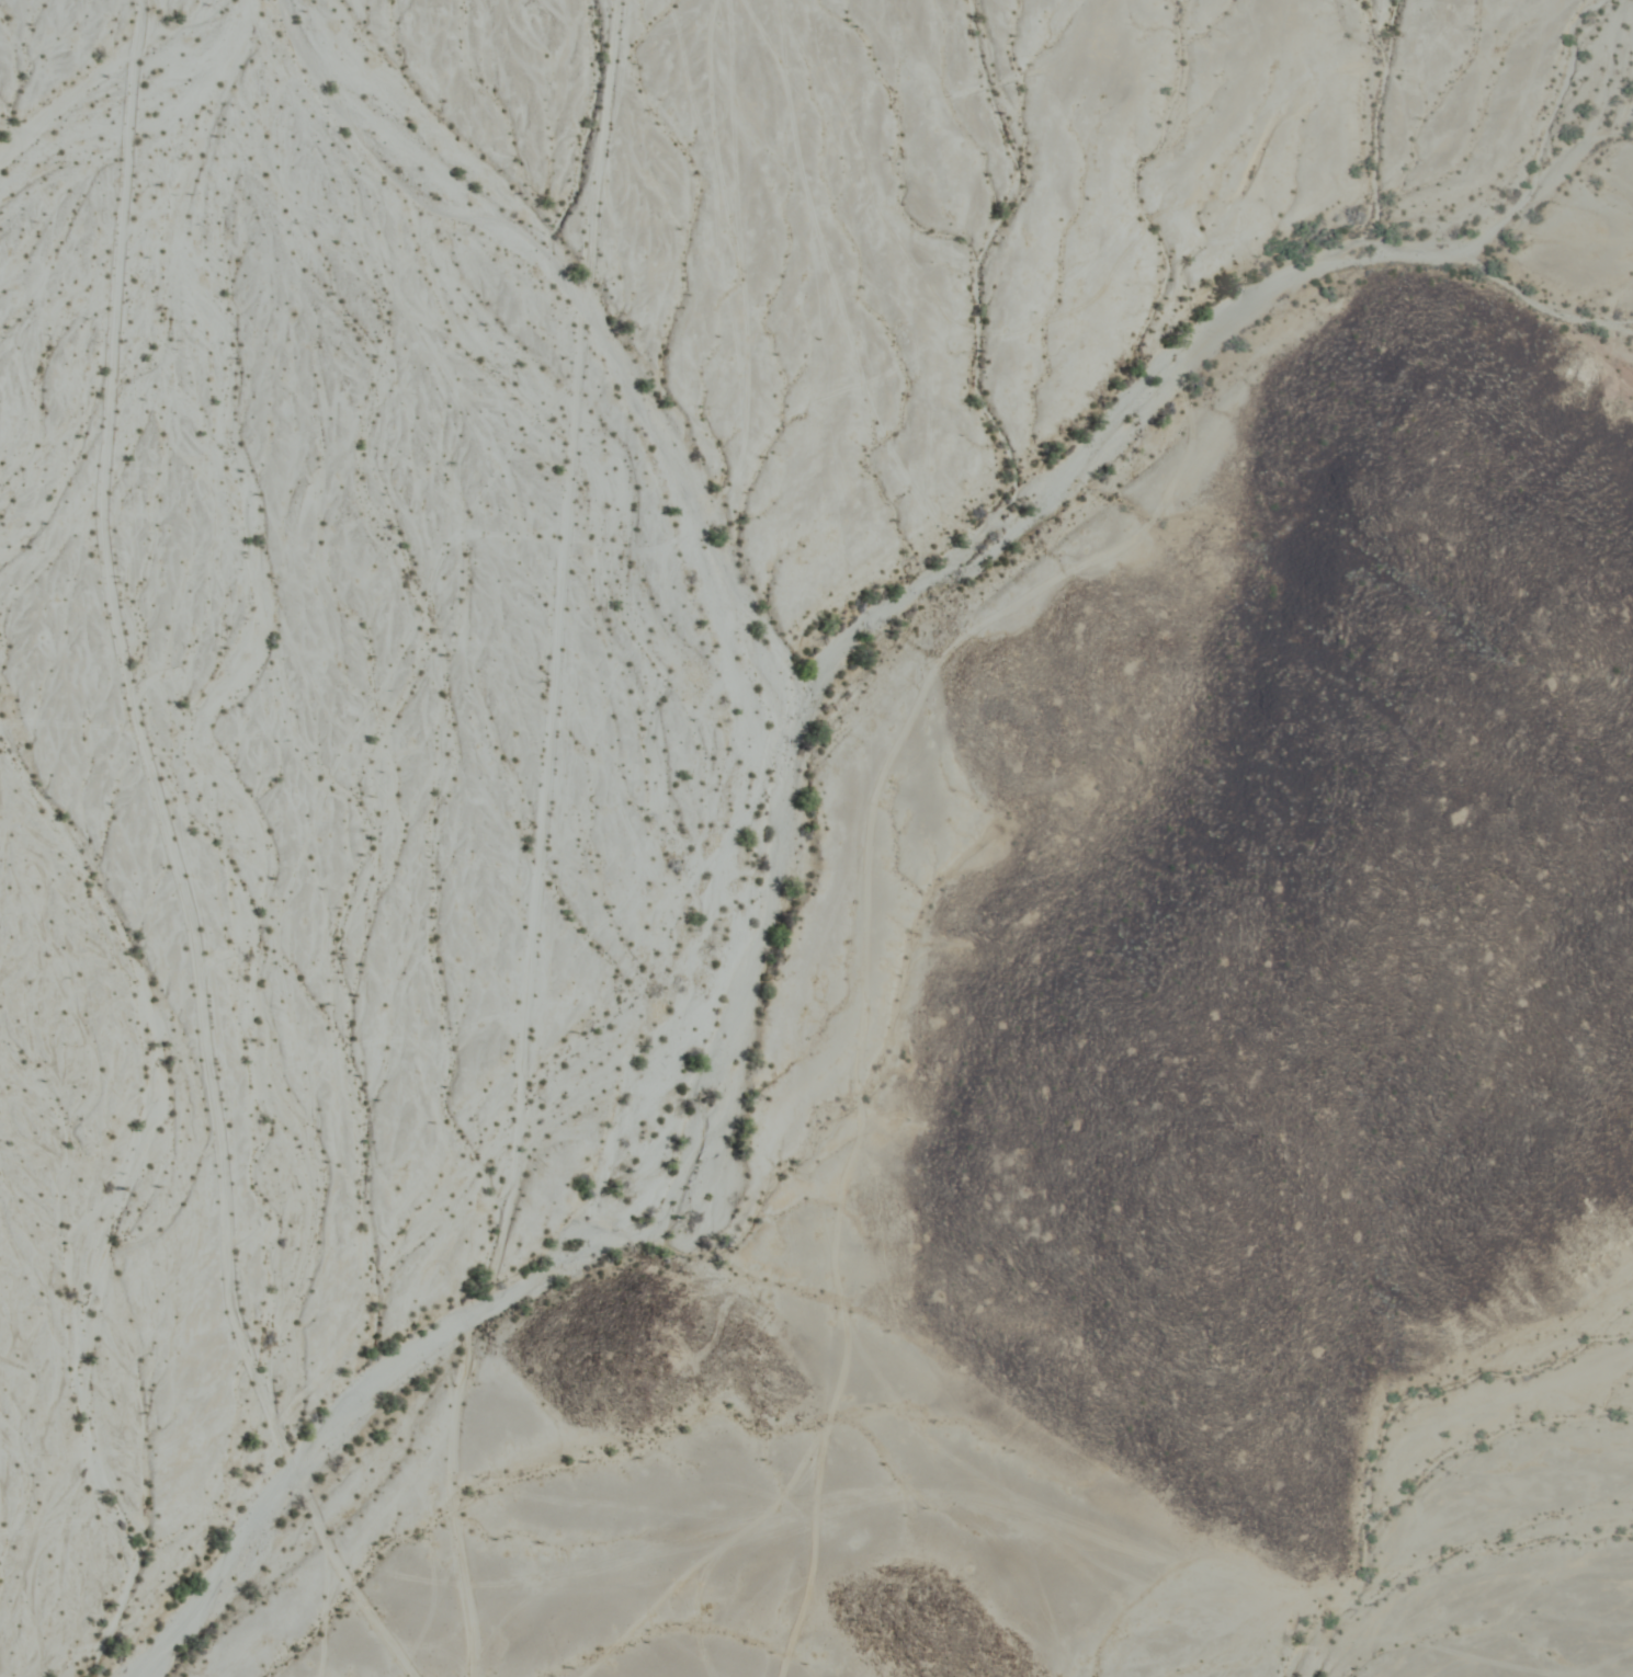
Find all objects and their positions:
road: (542, 842)
road: (172, 857)

